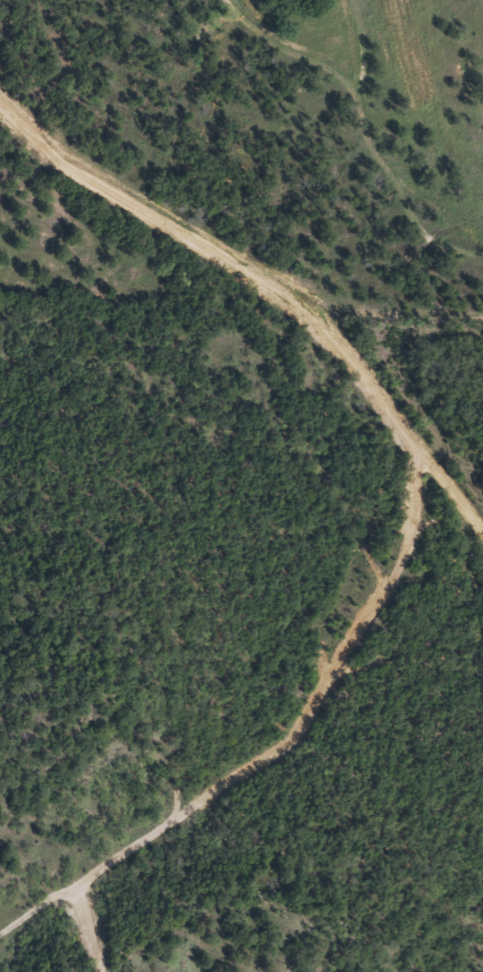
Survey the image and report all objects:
road: (418, 513)
road: (104, 927)

